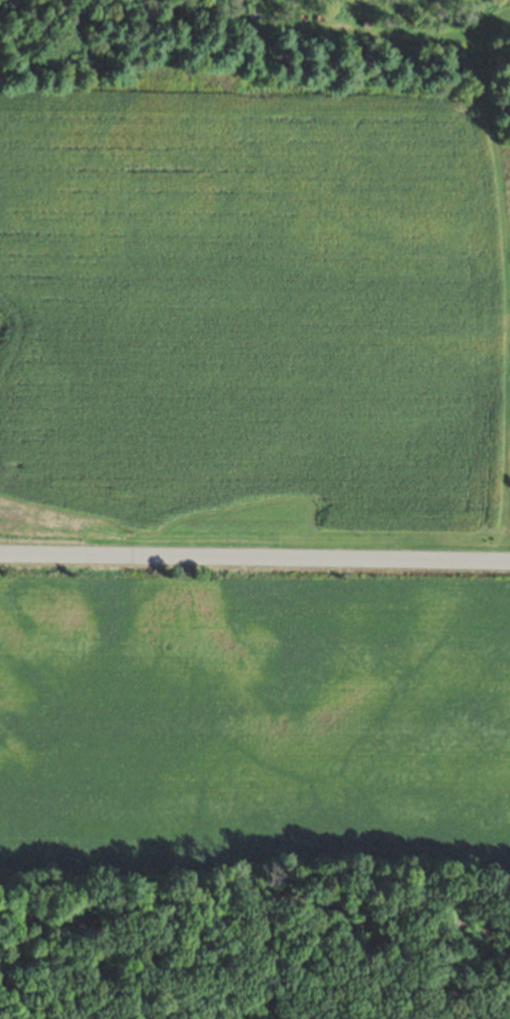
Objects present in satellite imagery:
road: (255, 561)

